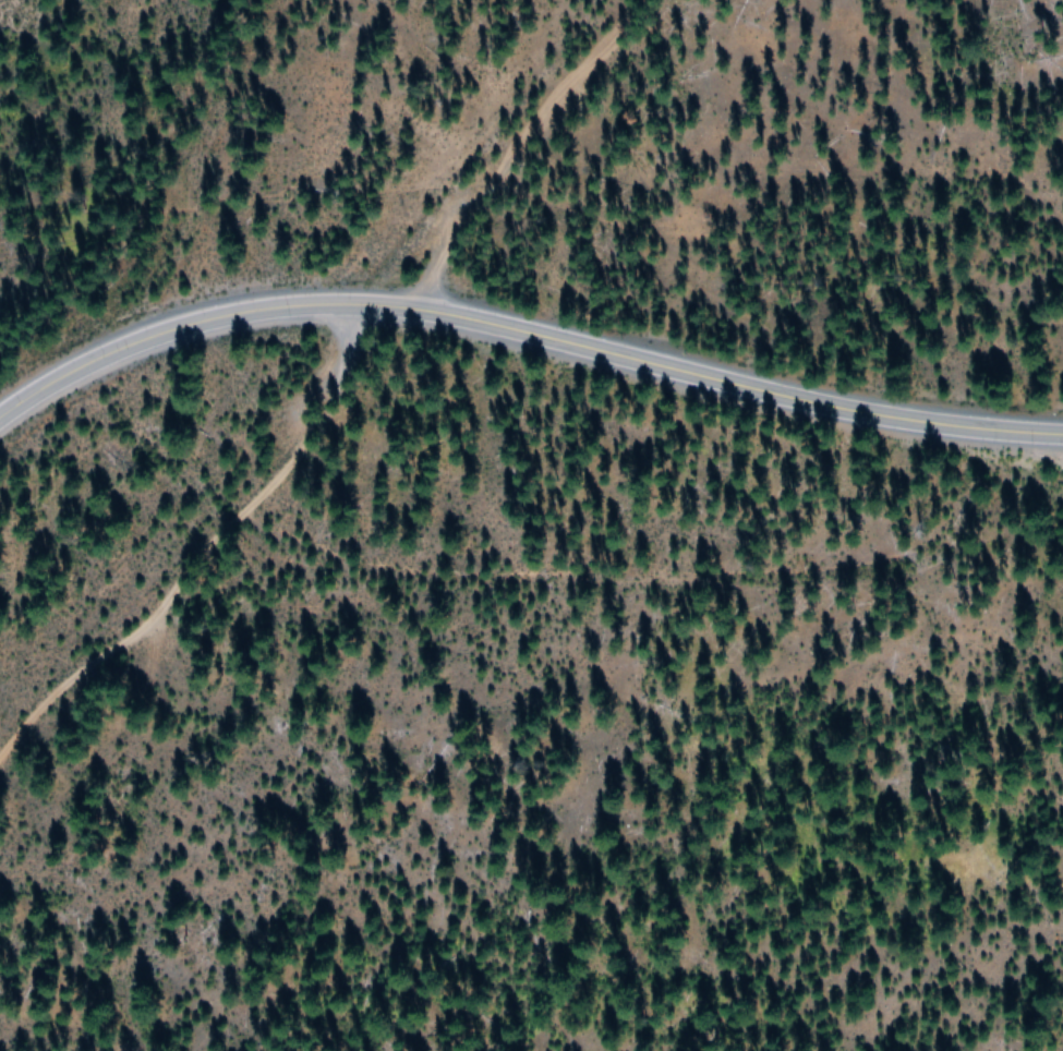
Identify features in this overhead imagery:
road: (516, 143)
road: (523, 328)
road: (208, 551)

